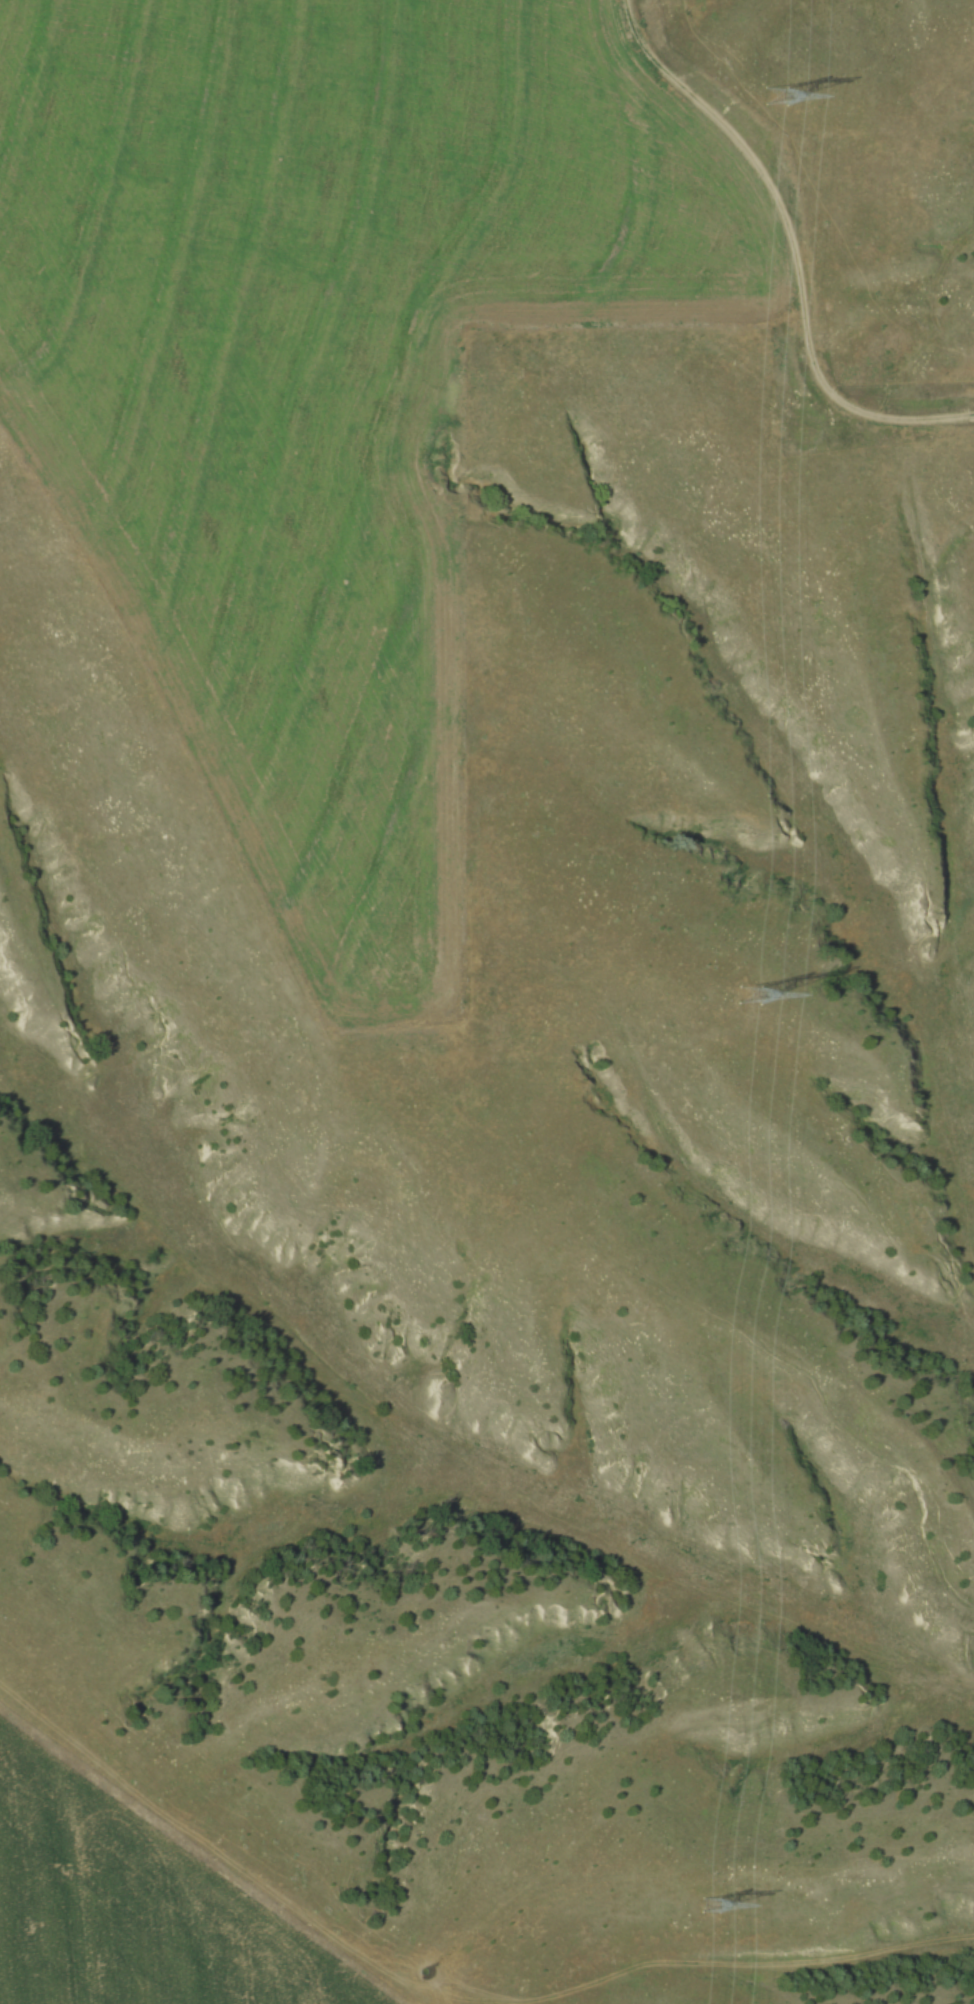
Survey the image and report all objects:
power tower: (778, 96)
road: (792, 246)
power tower: (749, 994)
power tower: (711, 1907)

